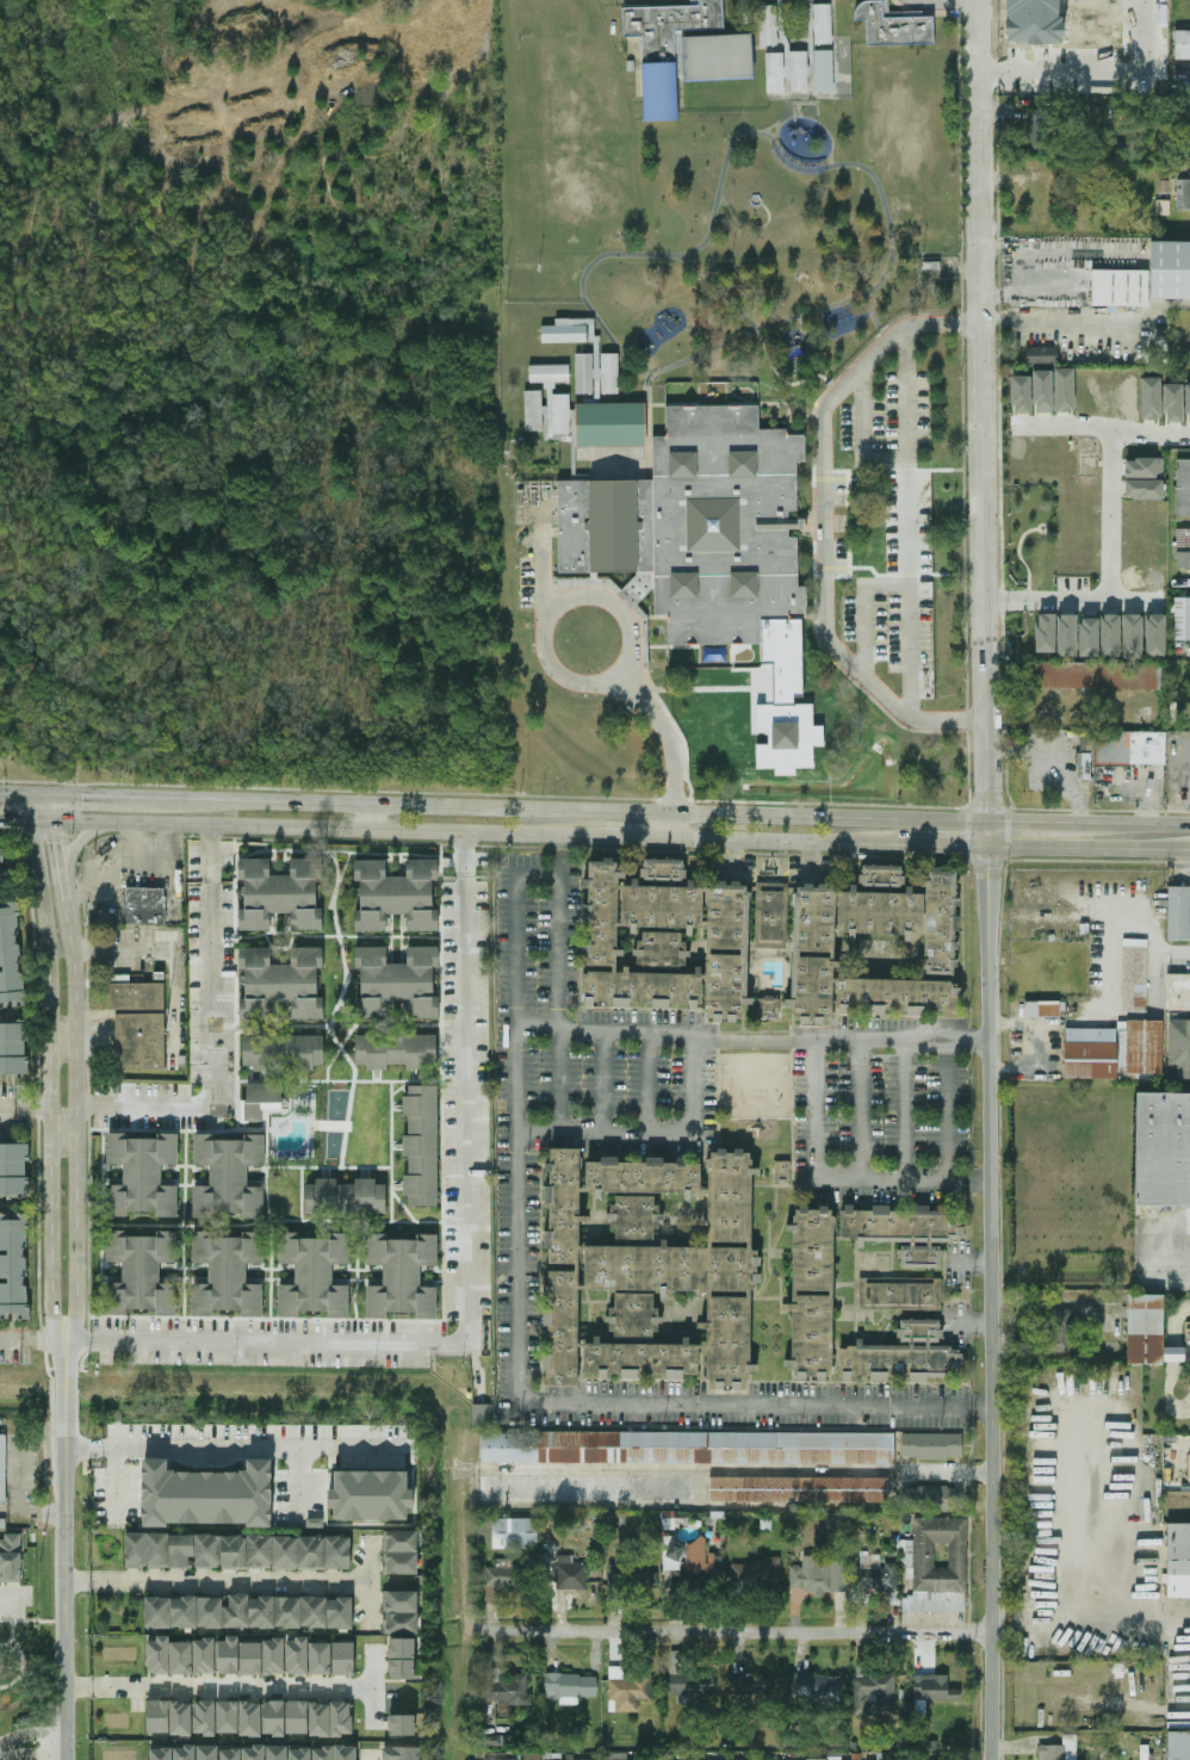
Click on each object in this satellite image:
road: (944, 2)
building: (695, 4)
road: (960, 6)
building: (901, 13)
building: (746, 18)
building: (825, 24)
building: (770, 25)
building: (897, 27)
road: (813, 38)
building: (814, 39)
building: (786, 42)
building: (1182, 44)
building: (668, 51)
building: (721, 58)
building: (776, 73)
building: (801, 73)
building: (826, 73)
road: (1097, 76)
road: (786, 117)
road: (818, 120)
park: (560, 125)
building: (1040, 130)
road: (725, 160)
building: (1183, 194)
road: (750, 228)
building: (1170, 268)
building: (1120, 287)
road: (1066, 318)
road: (754, 329)
building: (566, 333)
road: (760, 340)
building: (599, 354)
building: (1041, 354)
building: (552, 372)
building: (587, 373)
building: (611, 373)
building: (1064, 390)
building: (1042, 391)
building: (1021, 393)
building: (1151, 398)
building: (1188, 402)
building: (1173, 403)
road: (653, 405)
building: (534, 409)
road: (789, 410)
building: (563, 413)
building: (575, 422)
building: (550, 423)
building: (614, 423)
road: (1149, 428)
road: (904, 459)
building: (1143, 467)
road: (890, 469)
building: (1183, 488)
building: (1143, 489)
building: (701, 523)
road: (814, 523)
road: (822, 525)
road: (1111, 532)
road: (540, 574)
road: (891, 576)
road: (906, 591)
road: (581, 596)
building: (626, 596)
road: (661, 619)
building: (1182, 619)
building: (1046, 632)
building: (1067, 634)
building: (1110, 636)
building: (1132, 636)
building: (1155, 636)
building: (1089, 637)
road: (661, 647)
building: (1089, 675)
road: (689, 690)
building: (788, 706)
building: (707, 720)
road: (665, 735)
building: (1130, 748)
building: (1085, 758)
road: (1052, 760)
road: (1151, 787)
traffic signals: (81, 797)
road: (912, 806)
road: (595, 810)
road: (43, 813)
road: (374, 817)
traffic signals: (18, 819)
road: (674, 825)
road: (300, 826)
road: (638, 836)
traffic signals: (49, 841)
road: (80, 843)
road: (931, 843)
road: (461, 854)
road: (559, 854)
road: (51, 855)
building: (0, 863)
road: (169, 866)
road: (1183, 867)
road: (41, 872)
road: (114, 875)
road: (987, 879)
road: (56, 891)
building: (280, 893)
building: (396, 894)
building: (143, 905)
building: (1176, 912)
building: (770, 915)
road: (1123, 931)
building: (665, 940)
building: (813, 952)
building: (10, 956)
road: (1188, 960)
building: (1133, 974)
building: (397, 981)
building: (280, 983)
road: (1108, 987)
building: (1177, 992)
building: (136, 996)
road: (559, 1004)
building: (768, 1008)
building: (1040, 1009)
road: (1039, 1029)
road: (210, 1033)
road: (752, 1040)
building: (141, 1041)
building: (1179, 1045)
building: (1139, 1047)
building: (12, 1048)
building: (283, 1052)
building: (397, 1052)
building: (1089, 1053)
road: (602, 1082)
road: (649, 1083)
road: (693, 1087)
road: (813, 1091)
building: (262, 1099)
road: (25, 1109)
road: (947, 1109)
road: (860, 1110)
road: (905, 1110)
road: (76, 1122)
road: (50, 1129)
building: (421, 1145)
building: (1163, 1149)
building: (13, 1169)
building: (781, 1169)
building: (142, 1173)
building: (229, 1176)
road: (969, 1180)
building: (346, 1197)
building: (904, 1231)
road: (1165, 1257)
building: (13, 1266)
road: (972, 1266)
building: (650, 1269)
building: (141, 1272)
building: (227, 1273)
building: (314, 1275)
building: (401, 1276)
building: (899, 1291)
building: (812, 1293)
road: (464, 1297)
road: (972, 1325)
building: (1060, 1331)
building: (1148, 1332)
road: (31, 1343)
road: (75, 1344)
road: (516, 1352)
building: (901, 1356)
building: (482, 1414)
building: (931, 1445)
road: (244, 1446)
road: (76, 1448)
building: (687, 1448)
building: (2, 1467)
road: (737, 1470)
road: (19, 1474)
road: (300, 1483)
road: (116, 1485)
building: (585, 1488)
building: (798, 1489)
building: (206, 1495)
building: (371, 1495)
building: (934, 1499)
road: (31, 1512)
building: (2, 1523)
building: (514, 1532)
road: (64, 1551)
building: (238, 1551)
building: (399, 1551)
building: (673, 1555)
building: (11, 1558)
building: (1178, 1558)
building: (701, 1561)
building: (938, 1566)
building: (570, 1573)
building: (814, 1574)
building: (875, 1574)
building: (502, 1575)
building: (755, 1575)
road: (228, 1578)
road: (76, 1579)
road: (368, 1582)
road: (12, 1598)
park: (116, 1612)
building: (248, 1612)
building: (399, 1612)
road: (742, 1631)
building: (204, 1655)
building: (273, 1655)
building: (168, 1656)
building: (237, 1656)
building: (306, 1656)
building: (342, 1659)
building: (402, 1659)
building: (689, 1678)
building: (801, 1685)
building: (752, 1686)
road: (78, 1687)
road: (230, 1687)
road: (371, 1687)
building: (506, 1687)
building: (570, 1687)
building: (826, 1688)
building: (934, 1688)
building: (873, 1691)
building: (630, 1692)
building: (168, 1717)
building: (204, 1717)
building: (238, 1717)
building: (273, 1717)
building: (318, 1718)
building: (402, 1724)
building: (491, 1740)
building: (1178, 1744)
road: (32, 1747)
building: (1059, 1749)
building: (206, 1752)
building: (277, 1752)
building: (184, 1753)
building: (254, 1753)
building: (334, 1753)
building: (402, 1753)
building: (160, 1754)
building: (230, 1754)
building: (299, 1754)
building: (491, 1755)
building: (618, 1755)
road: (367, 1756)
building: (541, 1756)
building: (661, 1756)
building: (582, 1759)
building: (712, 1759)
building: (733, 1759)
building: (808, 1759)

